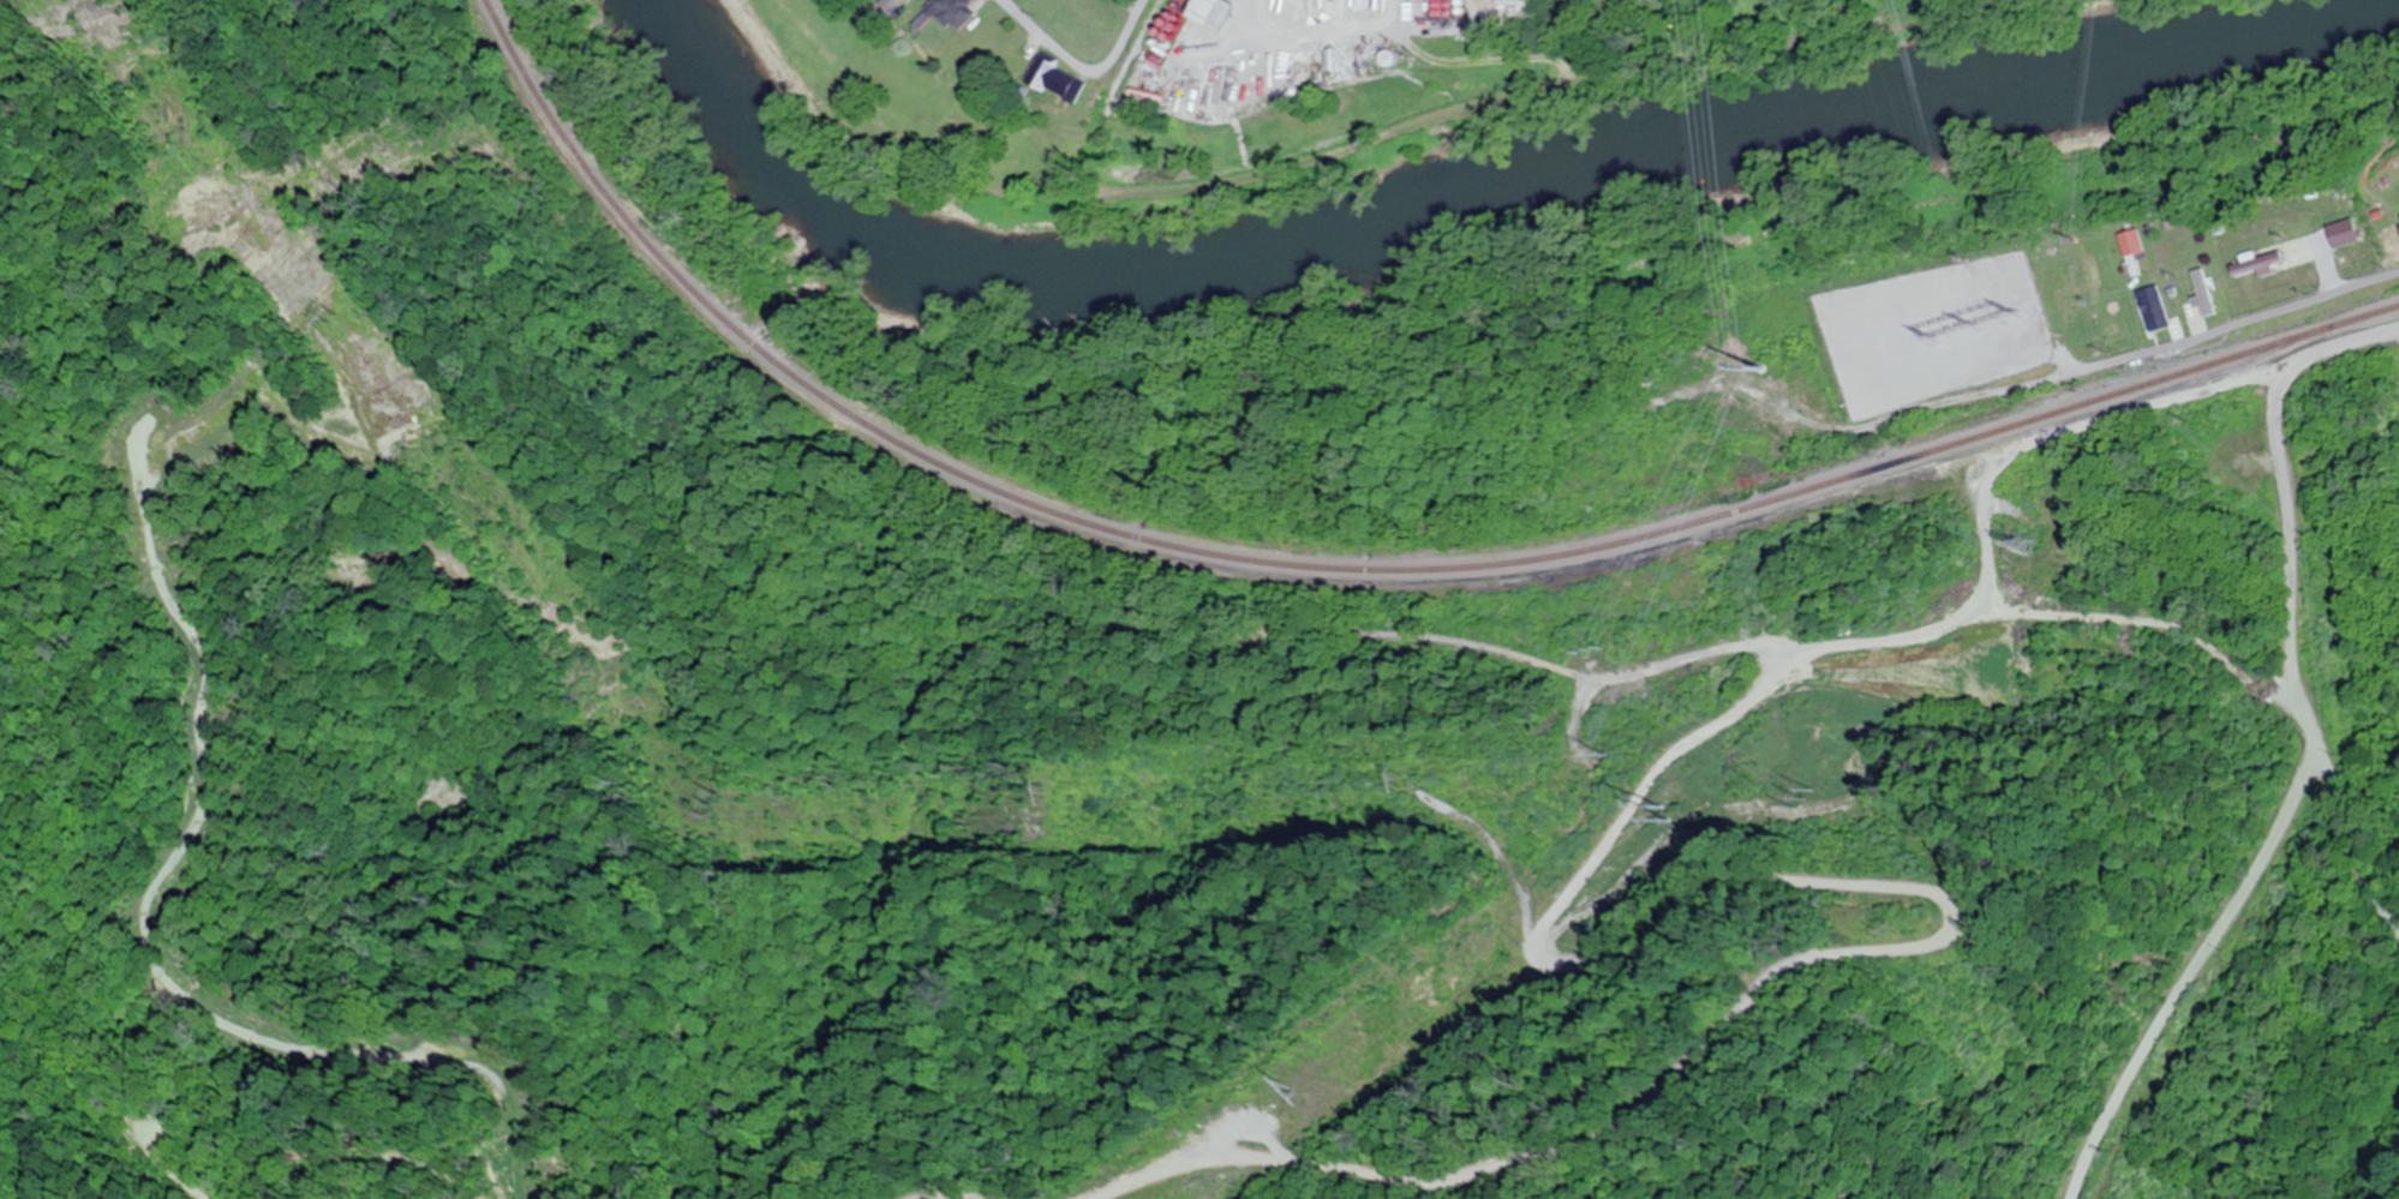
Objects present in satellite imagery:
building: (956, 13)
road: (1084, 58)
building: (1053, 76)
river: (1485, 205)
building: (2313, 206)
building: (2138, 251)
building: (2284, 271)
building: (2212, 293)
power tower: (1952, 294)
building: (2158, 307)
power substation: (1936, 332)
power tower: (1963, 335)
road: (2201, 344)
power tower: (1765, 367)
road: (2129, 414)
road: (2285, 502)
power tower: (2015, 553)
railway: (1360, 563)
road: (1611, 677)
road: (18, 790)
road: (2341, 850)
road: (1757, 891)
road: (2218, 917)
power tower: (1294, 1095)
road: (84, 1097)

